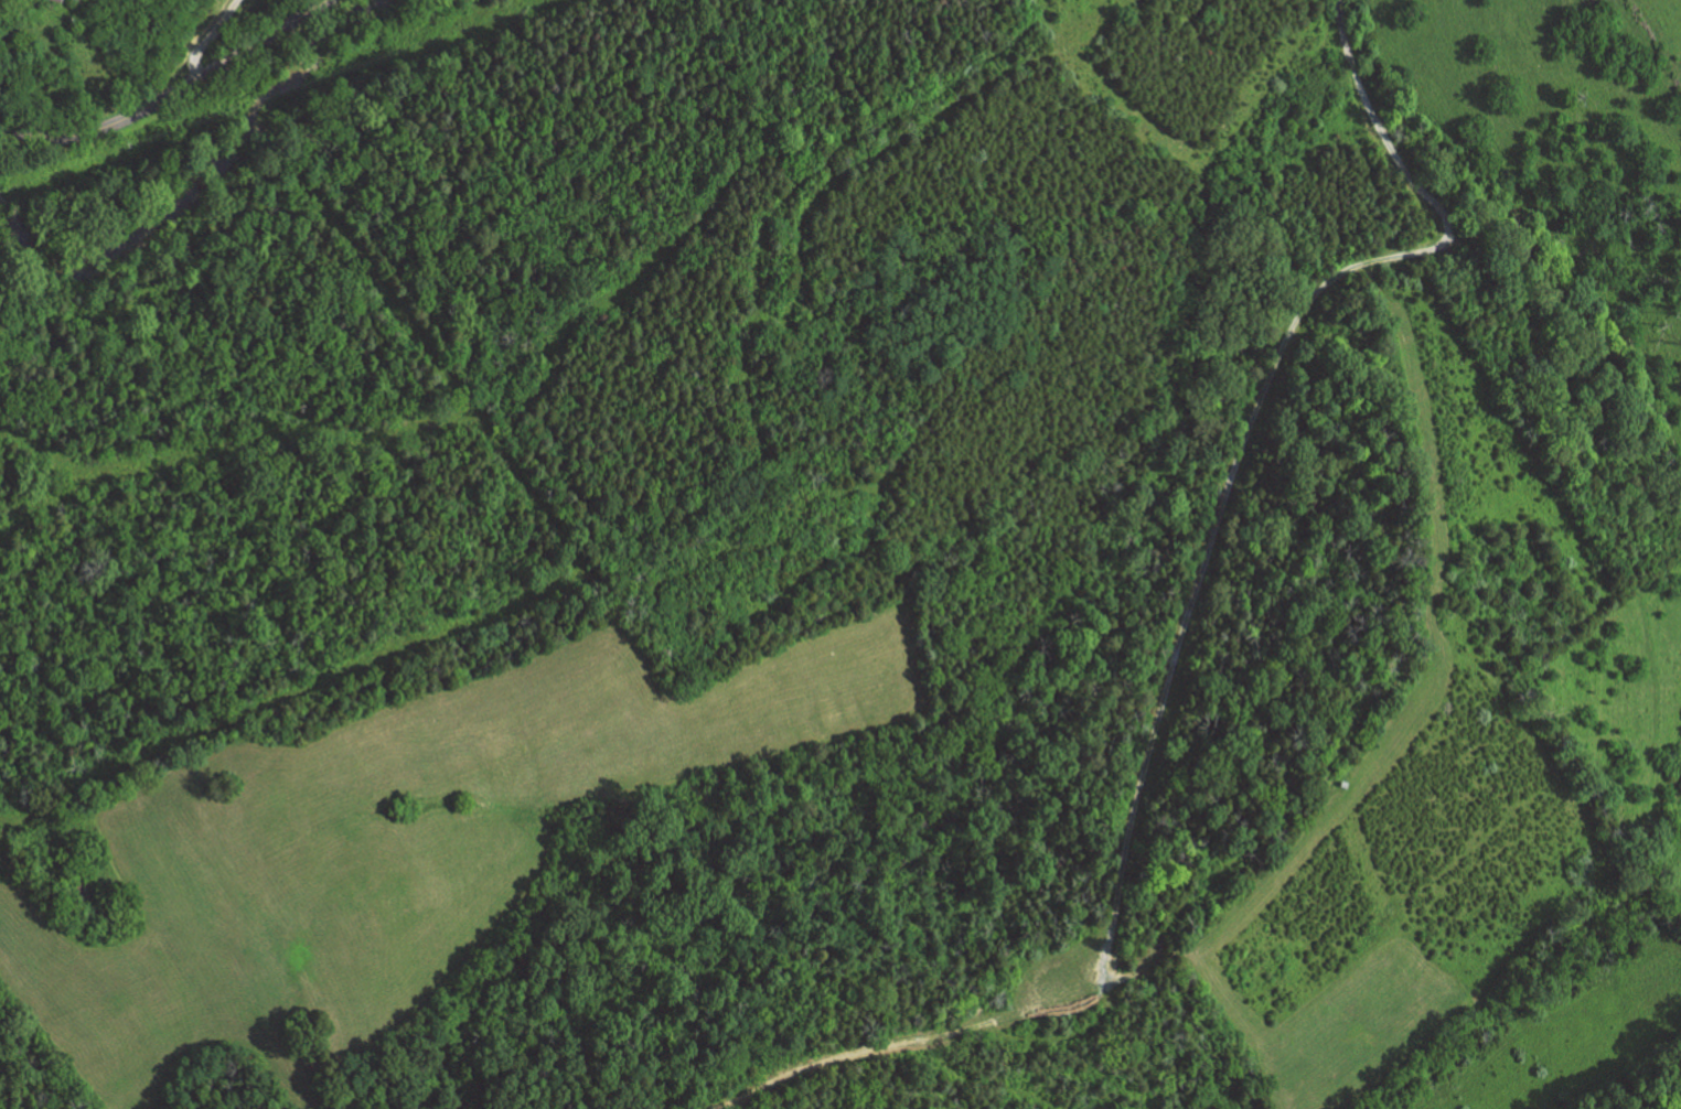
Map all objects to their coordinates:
road: (207, 35)
road: (169, 93)
road: (1181, 634)

